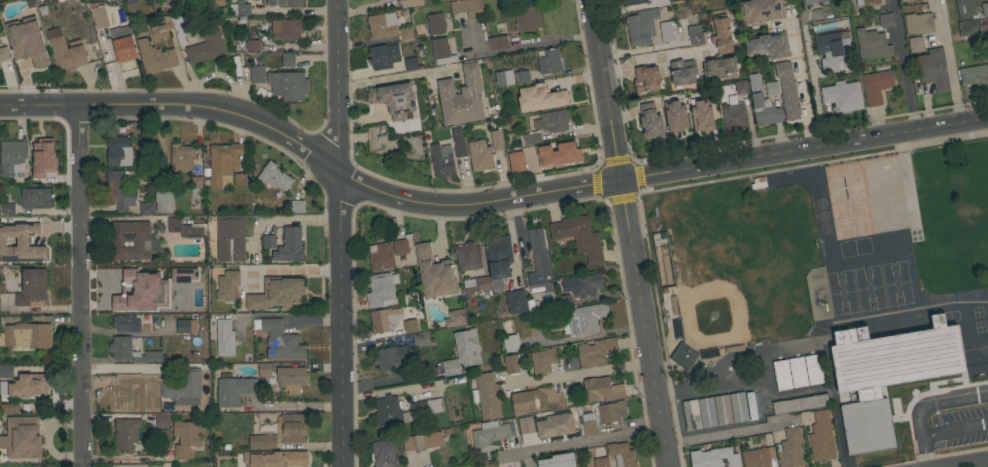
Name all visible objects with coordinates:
building: (36, 0)
building: (114, 0)
building: (905, 0)
building: (65, 1)
building: (131, 1)
building: (673, 1)
building: (812, 1)
building: (410, 2)
building: (636, 2)
building: (867, 2)
building: (218, 3)
building: (286, 3)
building: (186, 5)
building: (468, 8)
building: (240, 9)
building: (984, 9)
building: (760, 11)
building: (527, 16)
building: (967, 18)
building: (100, 20)
building: (886, 20)
building: (919, 23)
building: (436, 24)
building: (383, 25)
building: (641, 27)
building: (15, 29)
building: (168, 29)
building: (286, 29)
building: (667, 32)
building: (123, 34)
building: (405, 34)
building: (721, 34)
building: (694, 35)
building: (497, 42)
building: (871, 44)
building: (916, 44)
building: (768, 45)
building: (253, 46)
building: (206, 48)
road: (529, 48)
building: (124, 49)
building: (66, 51)
building: (832, 51)
building: (442, 52)
building: (4, 54)
building: (27, 55)
building: (384, 56)
building: (155, 57)
road: (657, 58)
building: (288, 60)
building: (548, 61)
building: (411, 63)
road: (949, 63)
building: (0, 64)
building: (719, 68)
building: (932, 69)
building: (682, 72)
building: (257, 74)
building: (974, 75)
road: (396, 77)
building: (522, 77)
building: (504, 78)
road: (799, 78)
building: (645, 79)
building: (288, 85)
road: (335, 85)
building: (876, 86)
building: (772, 88)
building: (786, 90)
building: (843, 96)
building: (461, 97)
building: (540, 98)
building: (394, 100)
building: (762, 104)
building: (735, 108)
building: (702, 115)
building: (675, 116)
building: (552, 121)
building: (651, 121)
building: (377, 138)
building: (531, 138)
building: (497, 139)
building: (458, 142)
building: (118, 150)
building: (563, 151)
building: (479, 156)
building: (13, 157)
building: (182, 157)
building: (42, 158)
building: (441, 160)
building: (536, 161)
building: (221, 163)
building: (517, 163)
building: (274, 177)
building: (240, 180)
building: (758, 183)
building: (197, 187)
building: (119, 190)
building: (164, 197)
building: (35, 198)
road: (485, 202)
building: (297, 205)
building: (8, 208)
building: (146, 209)
building: (186, 228)
building: (25, 233)
road: (629, 233)
building: (579, 236)
building: (230, 238)
building: (131, 241)
building: (268, 241)
building: (21, 244)
building: (290, 245)
building: (401, 246)
building: (468, 256)
building: (382, 257)
building: (539, 263)
building: (492, 264)
building: (435, 273)
building: (184, 276)
building: (247, 277)
road: (303, 280)
building: (586, 285)
building: (31, 286)
road: (77, 286)
building: (228, 287)
building: (381, 289)
building: (127, 297)
building: (282, 297)
building: (564, 301)
building: (516, 302)
building: (171, 308)
road: (290, 316)
building: (455, 318)
road: (339, 319)
building: (585, 320)
building: (382, 321)
building: (126, 323)
building: (409, 323)
building: (186, 326)
building: (678, 332)
building: (509, 335)
building: (26, 336)
building: (225, 338)
building: (420, 339)
building: (279, 340)
building: (596, 351)
building: (131, 352)
building: (463, 353)
building: (709, 354)
building: (683, 356)
building: (389, 357)
building: (543, 361)
building: (515, 364)
building: (264, 369)
building: (814, 369)
building: (6, 371)
road: (583, 371)
building: (798, 372)
building: (781, 375)
building: (888, 376)
building: (292, 378)
building: (30, 385)
building: (184, 387)
building: (601, 389)
building: (233, 391)
road: (395, 392)
building: (486, 397)
building: (856, 398)
building: (132, 399)
building: (551, 402)
building: (800, 404)
building: (753, 407)
building: (8, 408)
building: (740, 408)
road: (926, 408)
building: (427, 410)
building: (724, 411)
building: (708, 413)
building: (600, 416)
building: (692, 416)
building: (162, 420)
building: (553, 422)
building: (525, 426)
road: (953, 430)
building: (279, 431)
road: (737, 432)
building: (492, 433)
building: (126, 434)
building: (821, 437)
building: (22, 438)
building: (186, 438)
building: (422, 441)
road: (586, 441)
building: (790, 448)
building: (384, 454)
building: (622, 454)
building: (275, 458)
building: (713, 458)
building: (757, 458)
building: (558, 461)
building: (600, 462)
road: (960, 462)
building: (130, 465)
building: (43, 466)

